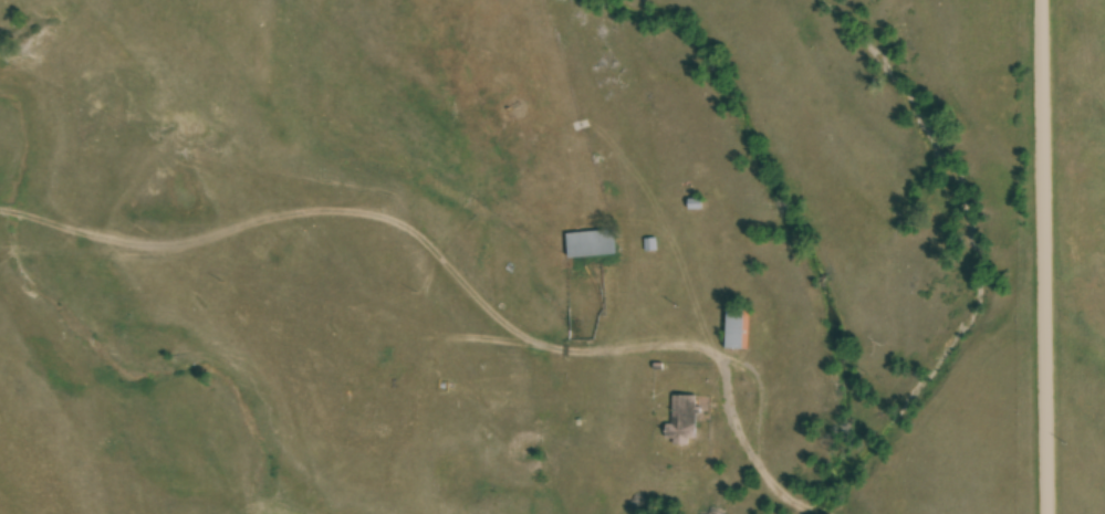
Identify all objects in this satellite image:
building: (591, 246)
road: (1040, 256)
building: (734, 332)
building: (682, 422)

